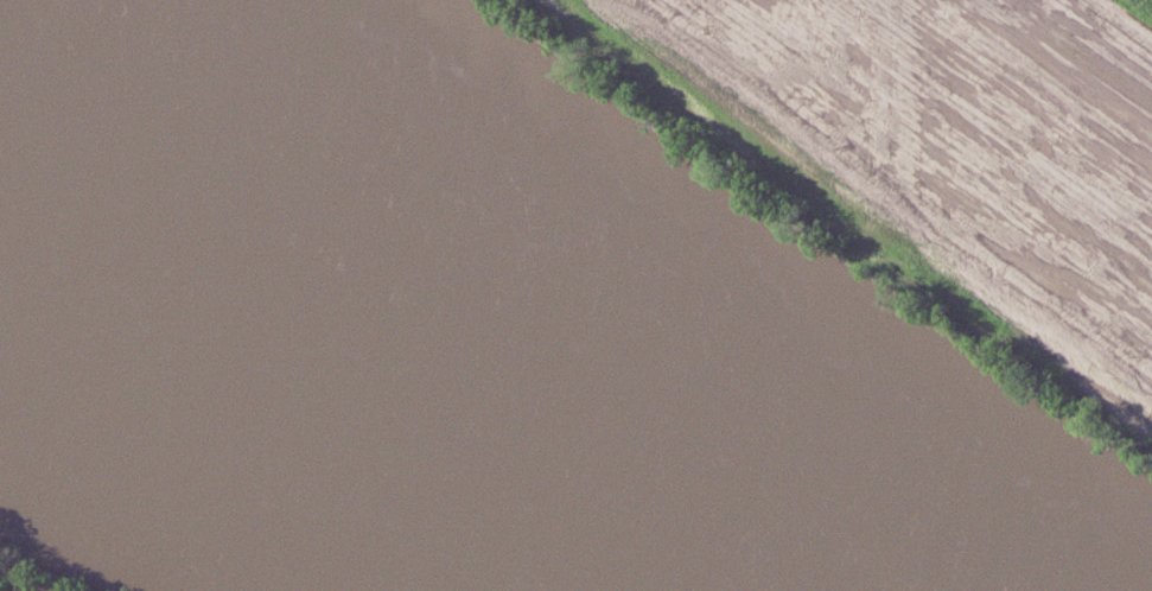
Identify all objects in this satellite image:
river: (361, 348)

